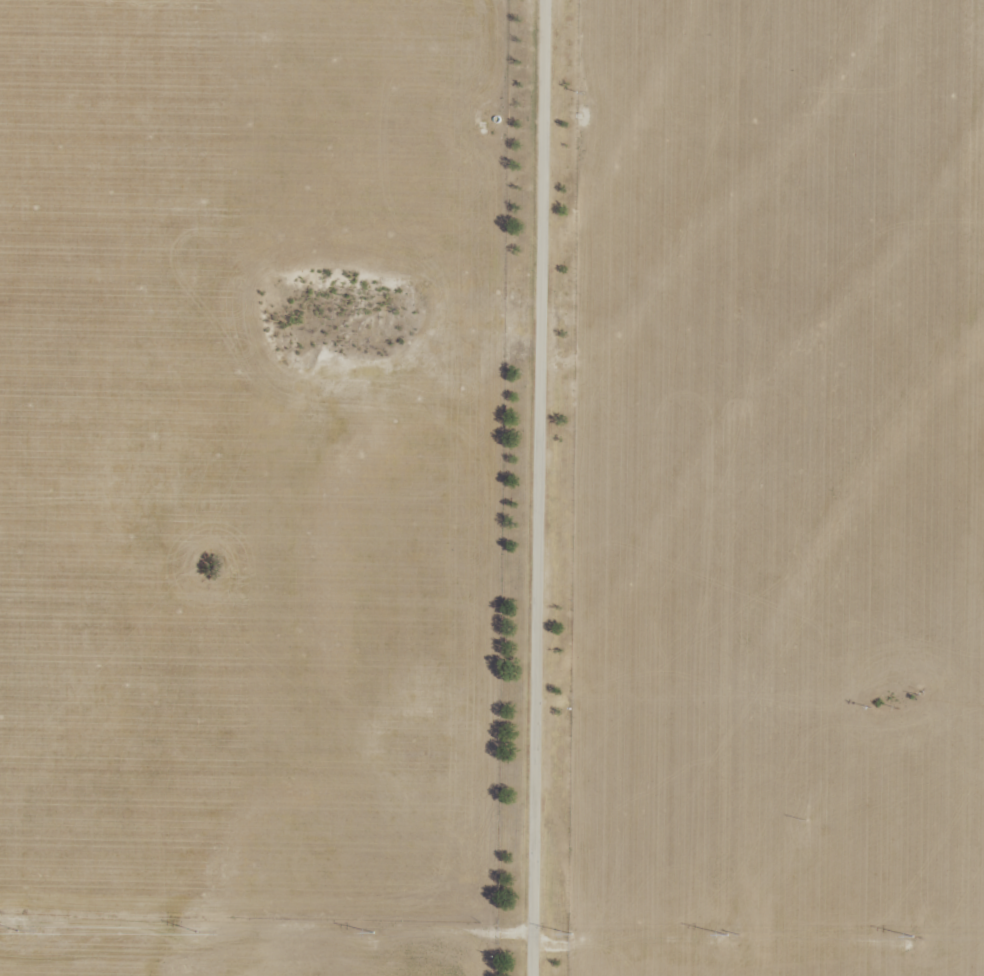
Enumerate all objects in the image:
road: (538, 488)

